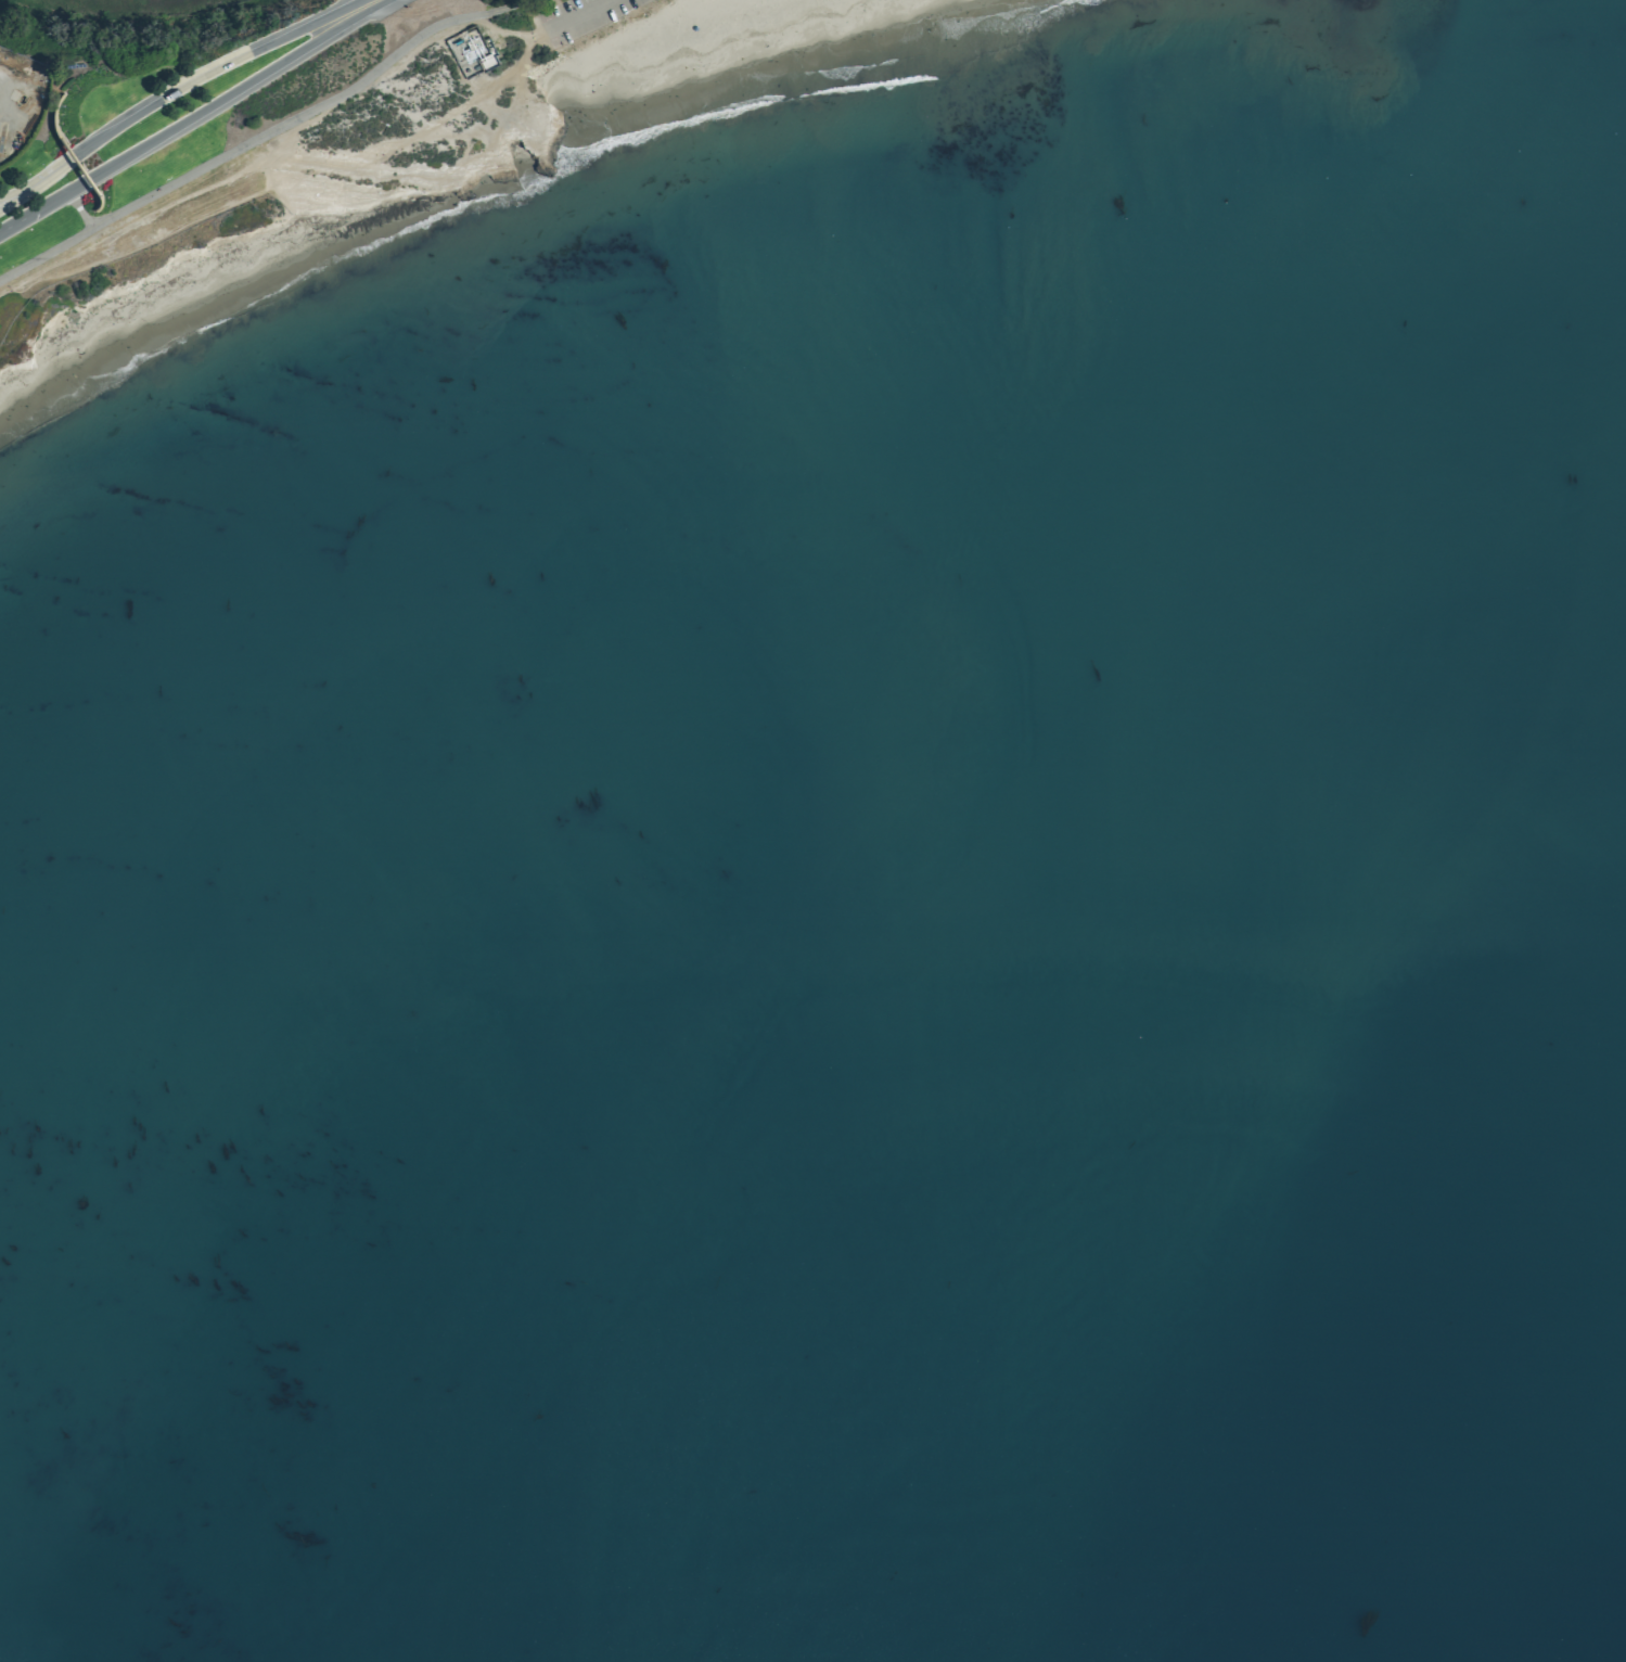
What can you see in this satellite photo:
road: (357, 9)
road: (579, 14)
parking lot: (582, 17)
park: (663, 44)
building: (472, 52)
road: (181, 87)
road: (206, 108)
road: (264, 133)
road: (17, 189)
road: (20, 197)
road: (79, 210)
road: (34, 212)

